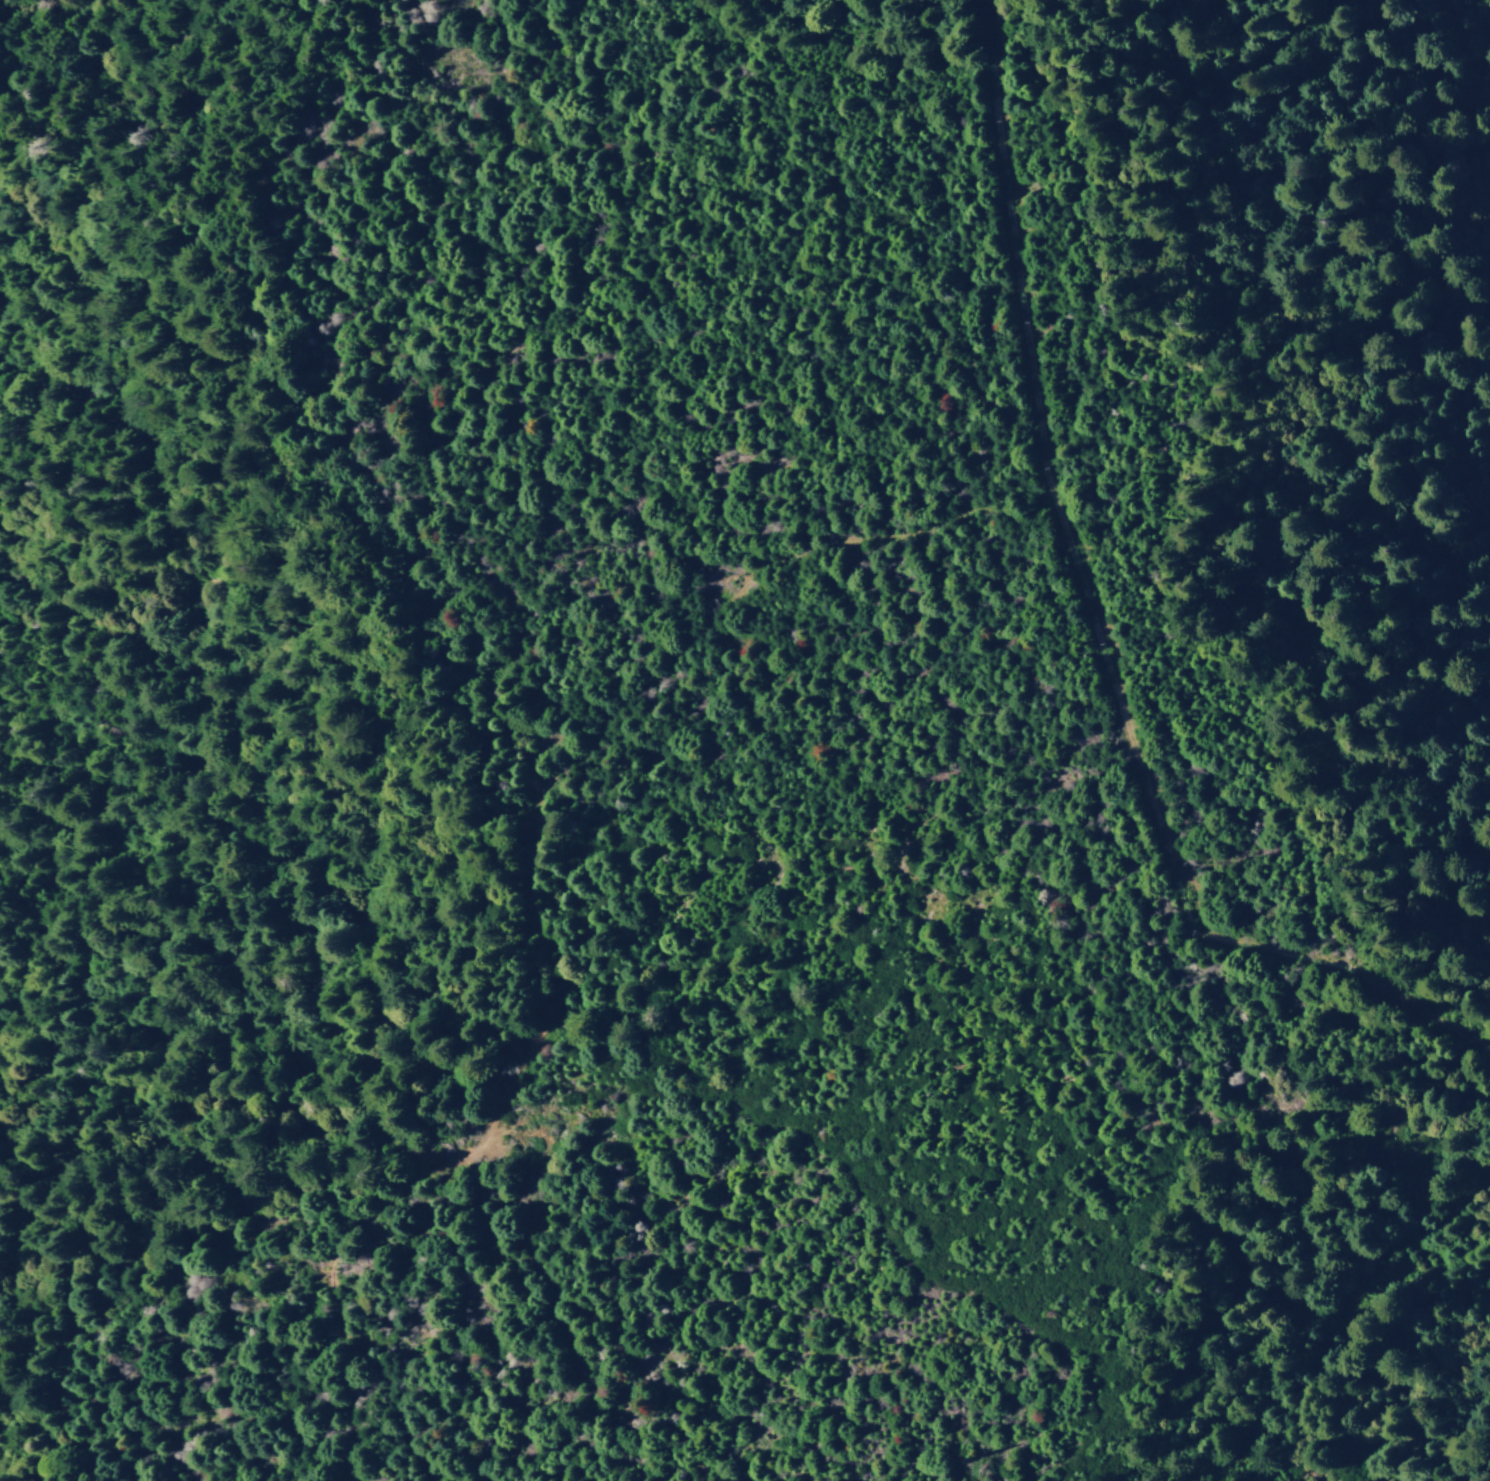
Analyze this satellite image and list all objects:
park: (1321, 407)
road: (1062, 482)
road: (556, 684)

